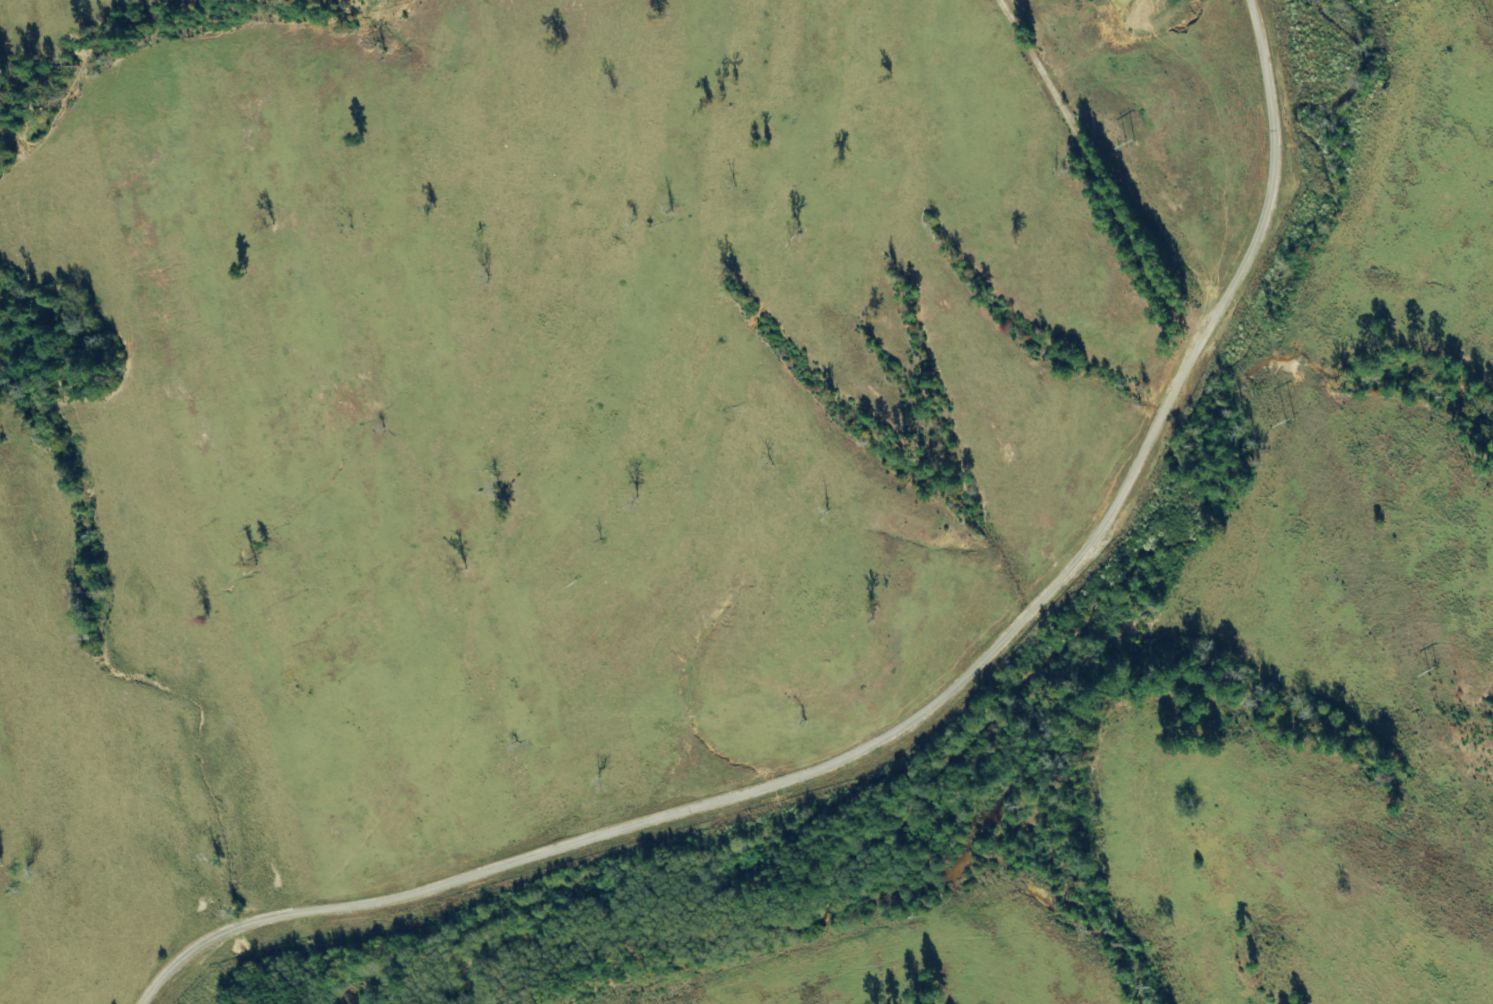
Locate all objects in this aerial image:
power tower: (1132, 142)
power tower: (1291, 423)
power tower: (1434, 669)

